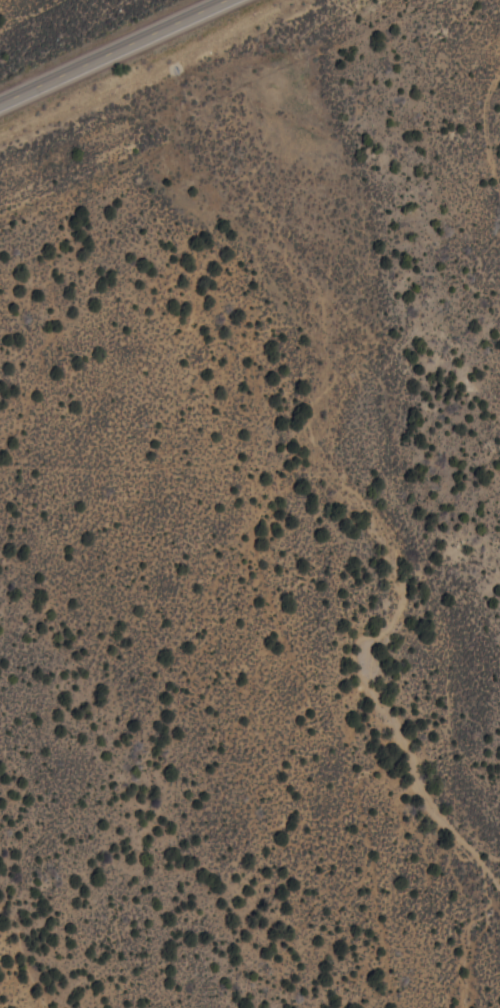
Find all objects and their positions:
road: (109, 50)

